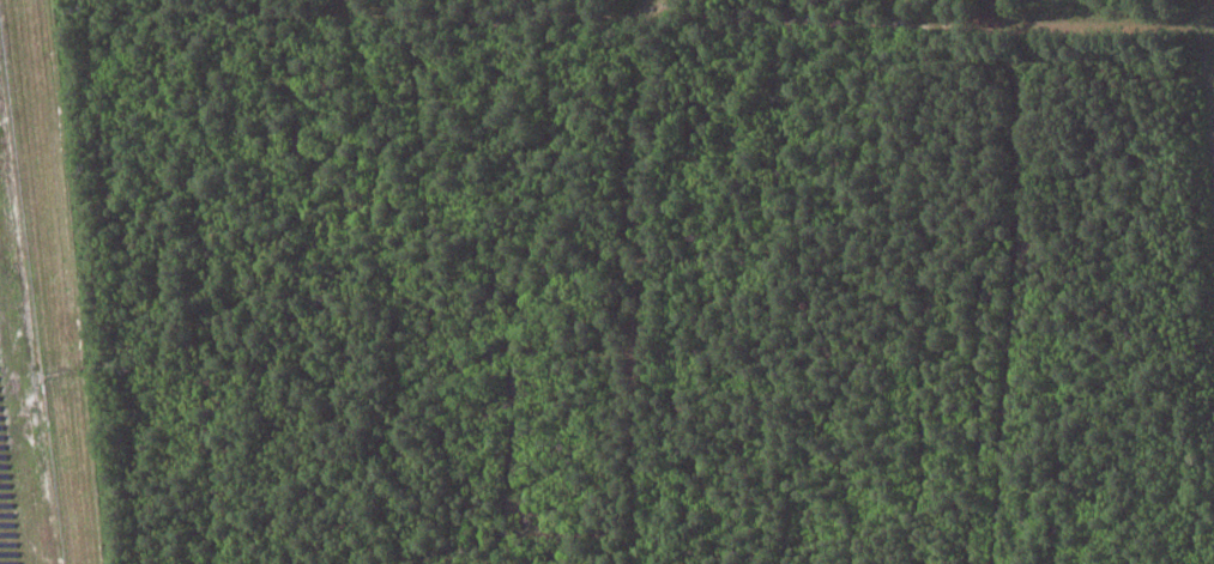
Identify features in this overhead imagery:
solar farm: (22, 380)

